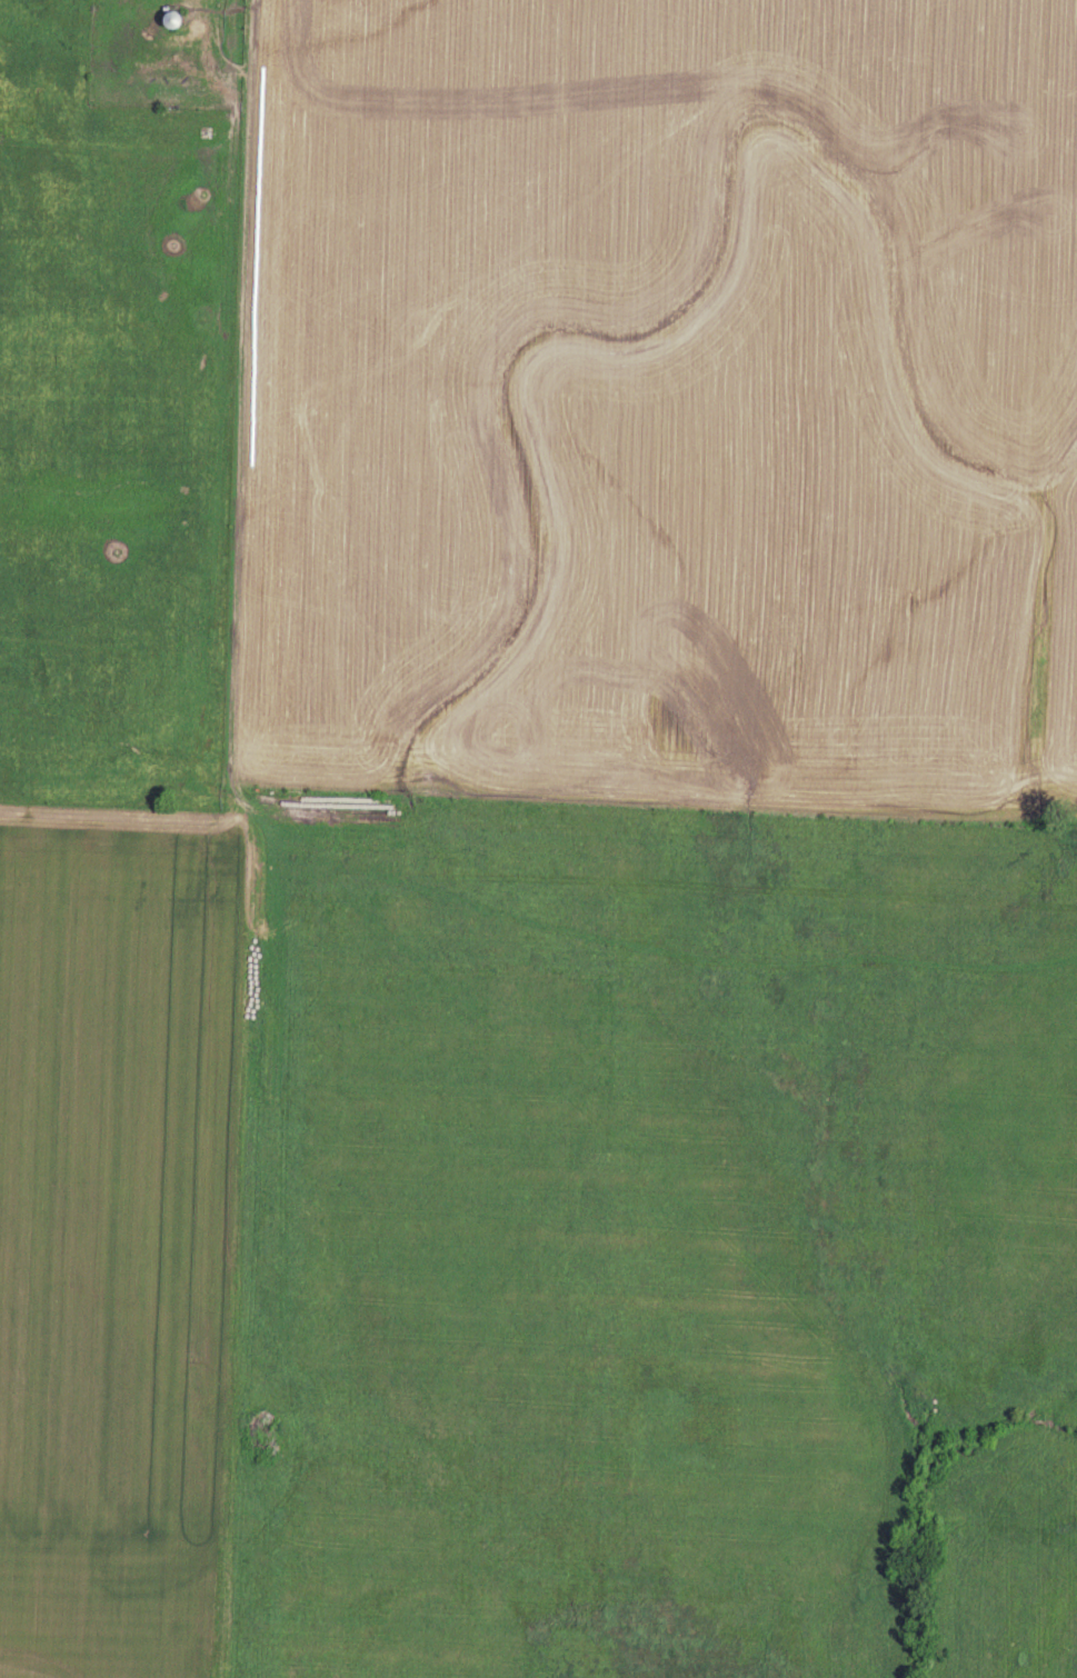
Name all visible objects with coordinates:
building: (164, 20)

